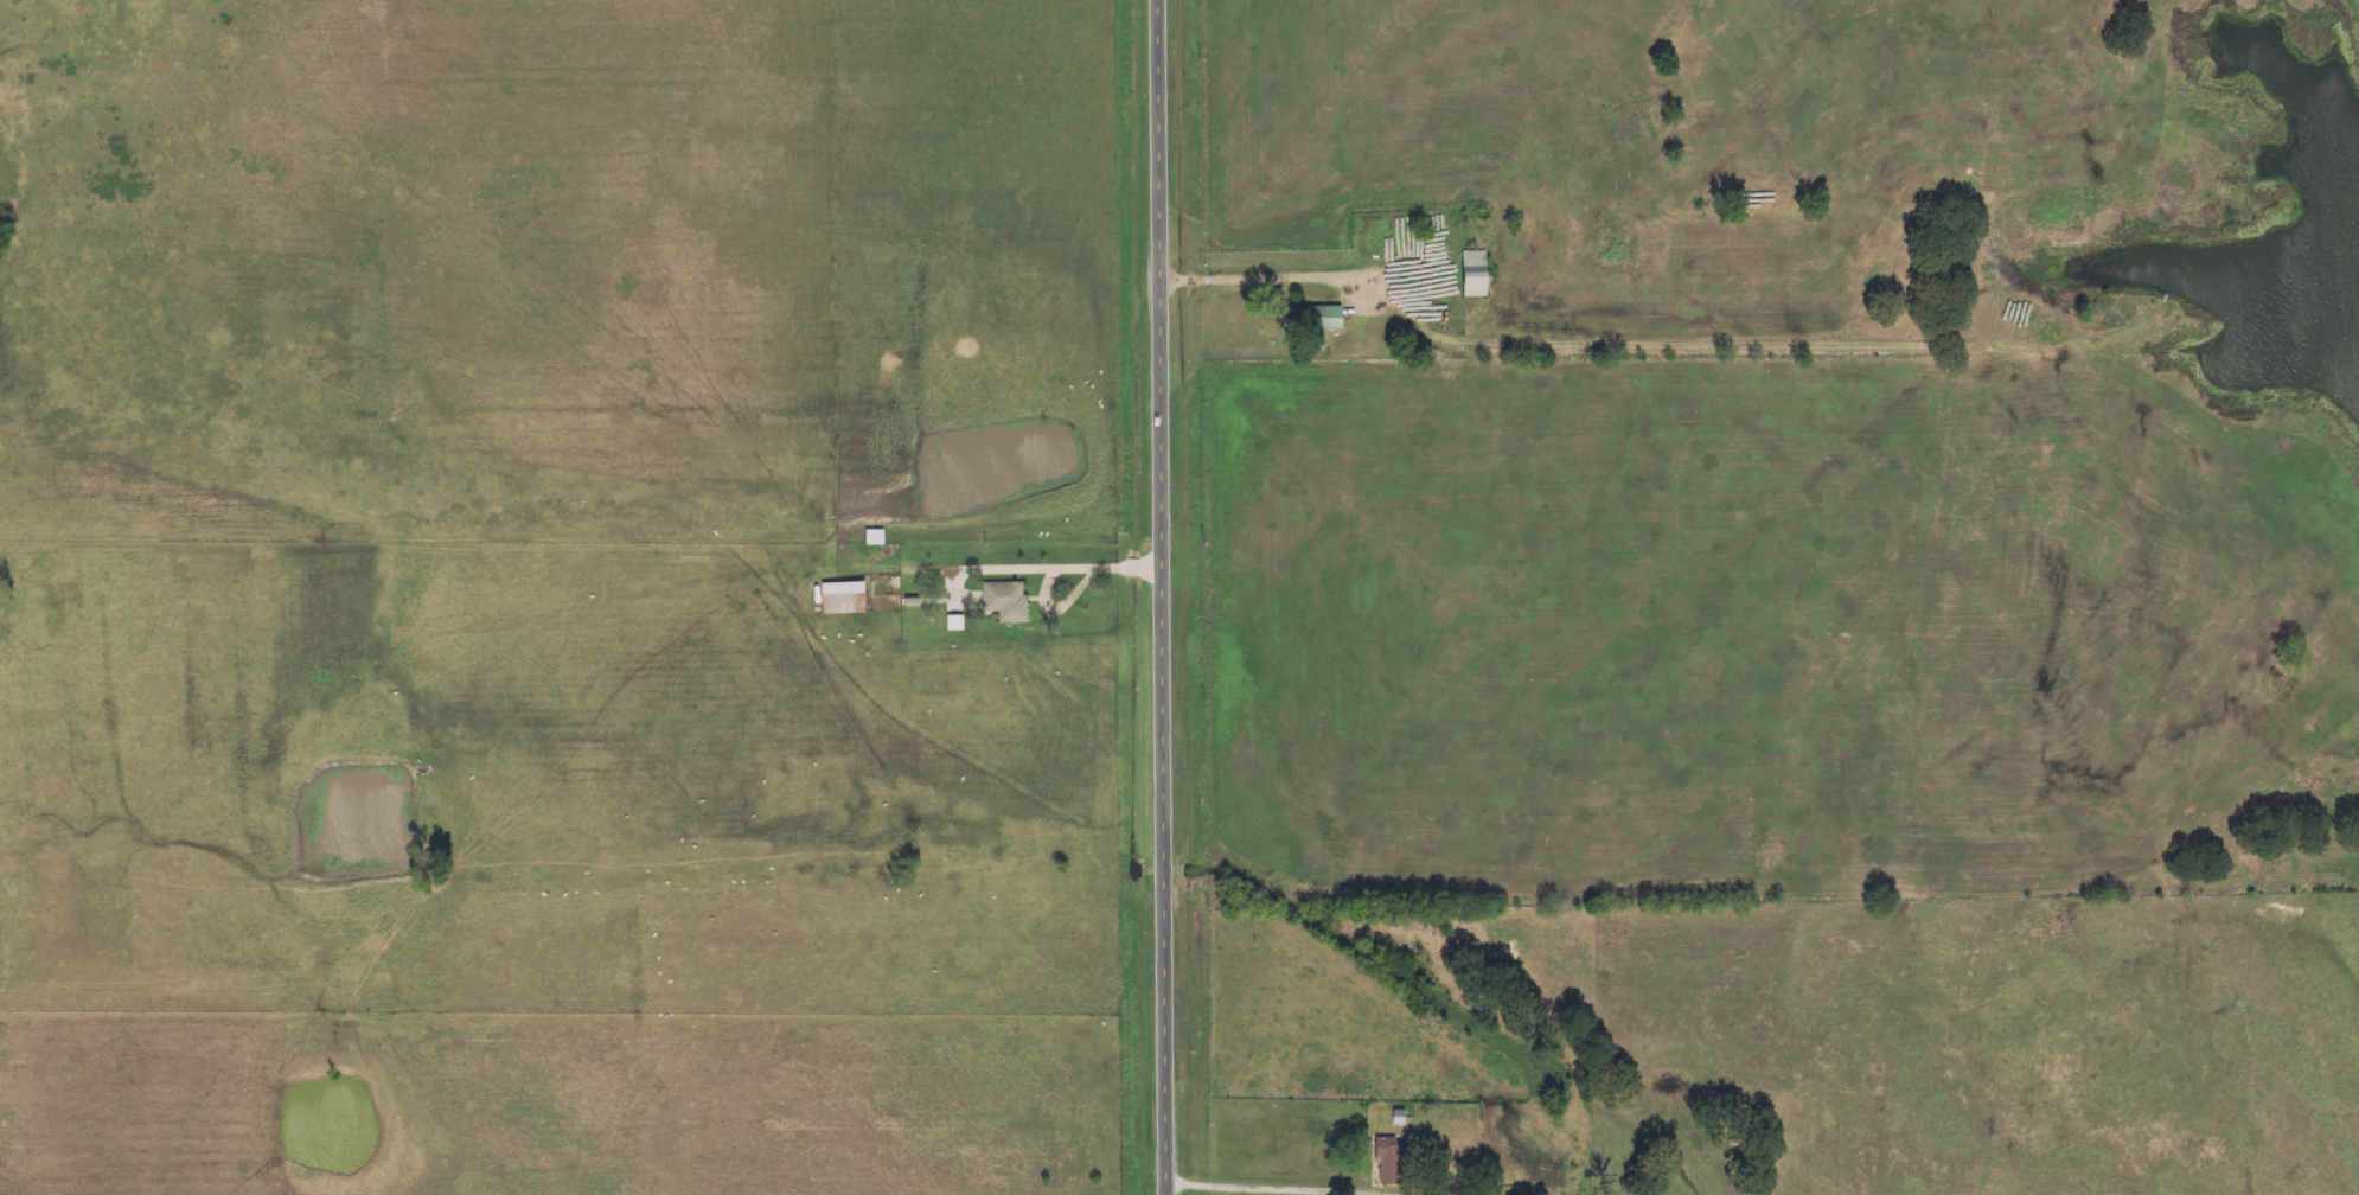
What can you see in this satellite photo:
road: (1277, 279)
building: (1478, 283)
building: (1334, 318)
road: (1031, 567)
road: (1162, 596)
building: (845, 597)
building: (1008, 601)
building: (957, 622)
building: (1392, 1162)
road: (1196, 1193)

